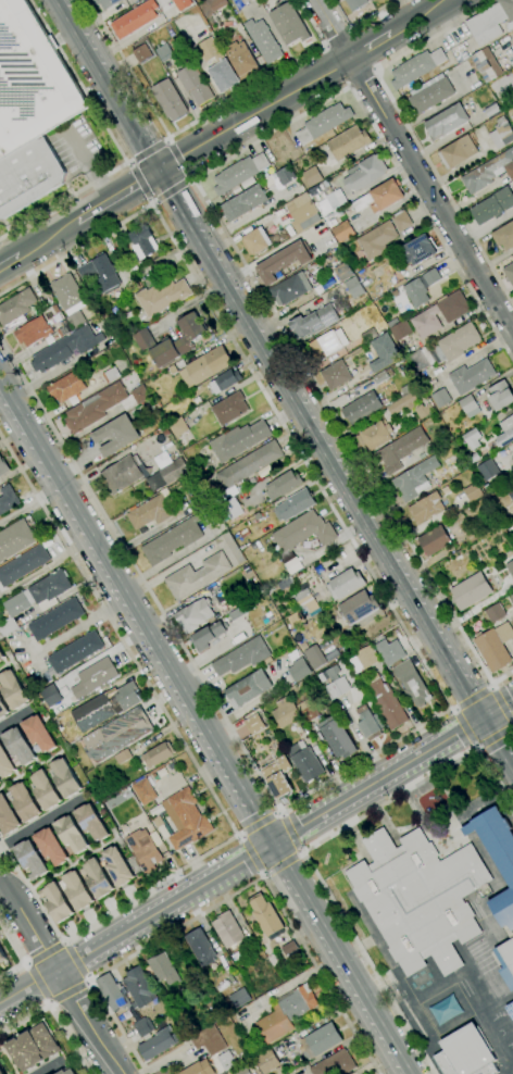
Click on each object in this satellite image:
building: (367, 0)
building: (373, 0)
building: (246, 1)
building: (107, 3)
building: (355, 3)
building: (182, 4)
building: (215, 4)
building: (508, 8)
road: (418, 16)
building: (135, 20)
road: (361, 22)
building: (289, 24)
building: (487, 24)
building: (509, 26)
road: (337, 36)
road: (90, 39)
building: (263, 40)
road: (371, 45)
building: (164, 52)
building: (141, 53)
building: (241, 60)
building: (486, 63)
building: (217, 65)
building: (415, 67)
road: (126, 68)
road: (267, 77)
road: (361, 77)
building: (32, 80)
road: (76, 80)
building: (195, 84)
road: (102, 86)
road: (111, 88)
building: (430, 93)
building: (168, 100)
road: (138, 107)
road: (252, 113)
building: (446, 122)
building: (324, 123)
road: (408, 128)
building: (501, 133)
road: (267, 134)
road: (166, 139)
building: (348, 142)
road: (76, 148)
road: (147, 152)
building: (458, 152)
road: (177, 158)
road: (127, 162)
traffic signals: (171, 162)
road: (172, 164)
road: (414, 165)
traffic signals: (154, 173)
building: (364, 173)
building: (488, 173)
building: (239, 174)
building: (286, 175)
building: (28, 176)
building: (312, 176)
road: (138, 182)
road: (98, 185)
road: (170, 191)
building: (333, 196)
road: (113, 197)
building: (380, 197)
road: (62, 200)
building: (243, 203)
building: (492, 205)
road: (199, 211)
building: (299, 212)
building: (401, 221)
road: (430, 224)
road: (196, 229)
building: (342, 232)
building: (504, 236)
road: (46, 238)
building: (377, 239)
building: (255, 240)
building: (143, 242)
road: (77, 248)
building: (420, 249)
road: (9, 260)
building: (280, 262)
building: (343, 272)
building: (100, 273)
building: (509, 273)
building: (353, 287)
building: (421, 287)
building: (290, 288)
building: (162, 297)
building: (70, 299)
building: (16, 307)
building: (453, 313)
building: (314, 322)
building: (64, 328)
building: (401, 330)
building: (33, 332)
building: (143, 340)
building: (327, 344)
building: (454, 344)
building: (64, 349)
building: (418, 360)
building: (205, 366)
road: (60, 367)
building: (173, 370)
building: (111, 375)
building: (336, 375)
building: (472, 376)
building: (380, 377)
building: (225, 380)
building: (66, 387)
building: (500, 396)
building: (440, 398)
building: (402, 403)
building: (103, 405)
building: (470, 405)
building: (361, 407)
building: (229, 408)
building: (424, 411)
building: (178, 426)
road: (339, 428)
building: (505, 433)
building: (116, 435)
building: (374, 436)
building: (471, 437)
building: (239, 440)
road: (328, 440)
road: (316, 446)
building: (401, 449)
building: (512, 458)
building: (250, 465)
building: (3, 466)
building: (486, 470)
building: (123, 474)
building: (167, 475)
building: (415, 479)
building: (284, 485)
building: (510, 490)
building: (8, 499)
building: (200, 499)
building: (296, 504)
road: (26, 508)
building: (426, 508)
building: (232, 509)
building: (151, 512)
building: (303, 532)
building: (15, 539)
building: (173, 540)
building: (435, 540)
road: (350, 542)
building: (229, 549)
road: (166, 561)
building: (23, 565)
building: (292, 565)
building: (510, 569)
building: (197, 576)
road: (139, 579)
road: (118, 584)
building: (345, 584)
building: (471, 590)
road: (111, 594)
building: (512, 594)
building: (512, 597)
building: (303, 598)
building: (35, 599)
building: (312, 607)
building: (358, 607)
building: (496, 613)
building: (193, 615)
building: (55, 620)
building: (296, 620)
road: (75, 628)
road: (118, 635)
building: (207, 636)
building: (495, 646)
building: (389, 651)
building: (74, 652)
building: (0, 655)
building: (242, 657)
building: (314, 657)
road: (449, 658)
building: (364, 659)
road: (468, 663)
road: (3, 667)
building: (299, 671)
road: (501, 675)
building: (93, 677)
building: (412, 683)
road: (490, 686)
building: (337, 688)
building: (248, 689)
building: (13, 690)
building: (51, 696)
building: (124, 698)
road: (472, 699)
building: (385, 701)
road: (500, 707)
road: (495, 708)
building: (2, 709)
road: (451, 709)
traffic signals: (496, 709)
building: (308, 710)
building: (285, 712)
road: (14, 720)
traffic signals: (478, 720)
building: (254, 724)
building: (367, 724)
road: (511, 724)
road: (465, 727)
building: (240, 730)
building: (38, 733)
building: (116, 734)
road: (491, 734)
road: (511, 735)
building: (337, 737)
road: (490, 740)
building: (17, 746)
road: (475, 747)
building: (158, 754)
building: (305, 761)
building: (5, 763)
road: (29, 766)
road: (392, 771)
road: (508, 771)
building: (278, 776)
building: (65, 778)
road: (493, 780)
road: (230, 783)
building: (46, 790)
building: (143, 791)
building: (24, 801)
road: (228, 806)
road: (254, 813)
building: (8, 816)
building: (186, 819)
building: (91, 822)
road: (39, 823)
road: (254, 824)
road: (289, 833)
building: (71, 834)
road: (240, 836)
traffic signals: (272, 842)
building: (50, 846)
building: (143, 849)
road: (255, 851)
road: (298, 851)
traffic signals: (256, 852)
road: (250, 854)
building: (498, 858)
building: (30, 859)
road: (280, 863)
road: (72, 864)
building: (117, 866)
road: (289, 872)
road: (262, 873)
road: (315, 876)
building: (98, 879)
road: (2, 886)
road: (268, 888)
building: (77, 890)
building: (418, 898)
road: (284, 900)
building: (57, 902)
road: (165, 907)
road: (306, 911)
building: (265, 915)
road: (101, 916)
road: (29, 923)
building: (227, 929)
building: (509, 932)
road: (63, 940)
building: (201, 947)
building: (290, 950)
road: (45, 953)
road: (18, 954)
building: (2, 956)
road: (73, 959)
building: (273, 960)
building: (506, 962)
road: (25, 963)
building: (163, 969)
road: (37, 982)
road: (86, 982)
road: (28, 985)
building: (138, 986)
road: (359, 987)
building: (111, 991)
road: (65, 992)
building: (185, 994)
road: (349, 997)
building: (239, 998)
road: (474, 1000)
road: (49, 1002)
building: (443, 1010)
building: (510, 1010)
building: (287, 1012)
road: (54, 1014)
road: (87, 1022)
road: (115, 1024)
building: (143, 1027)
building: (209, 1040)
building: (320, 1041)
building: (158, 1044)
building: (34, 1048)
building: (466, 1054)
building: (227, 1061)
building: (267, 1061)
road: (157, 1062)
building: (334, 1064)
building: (199, 1067)
building: (1, 1069)
road: (51, 1070)
building: (242, 1071)
building: (66, 1072)

